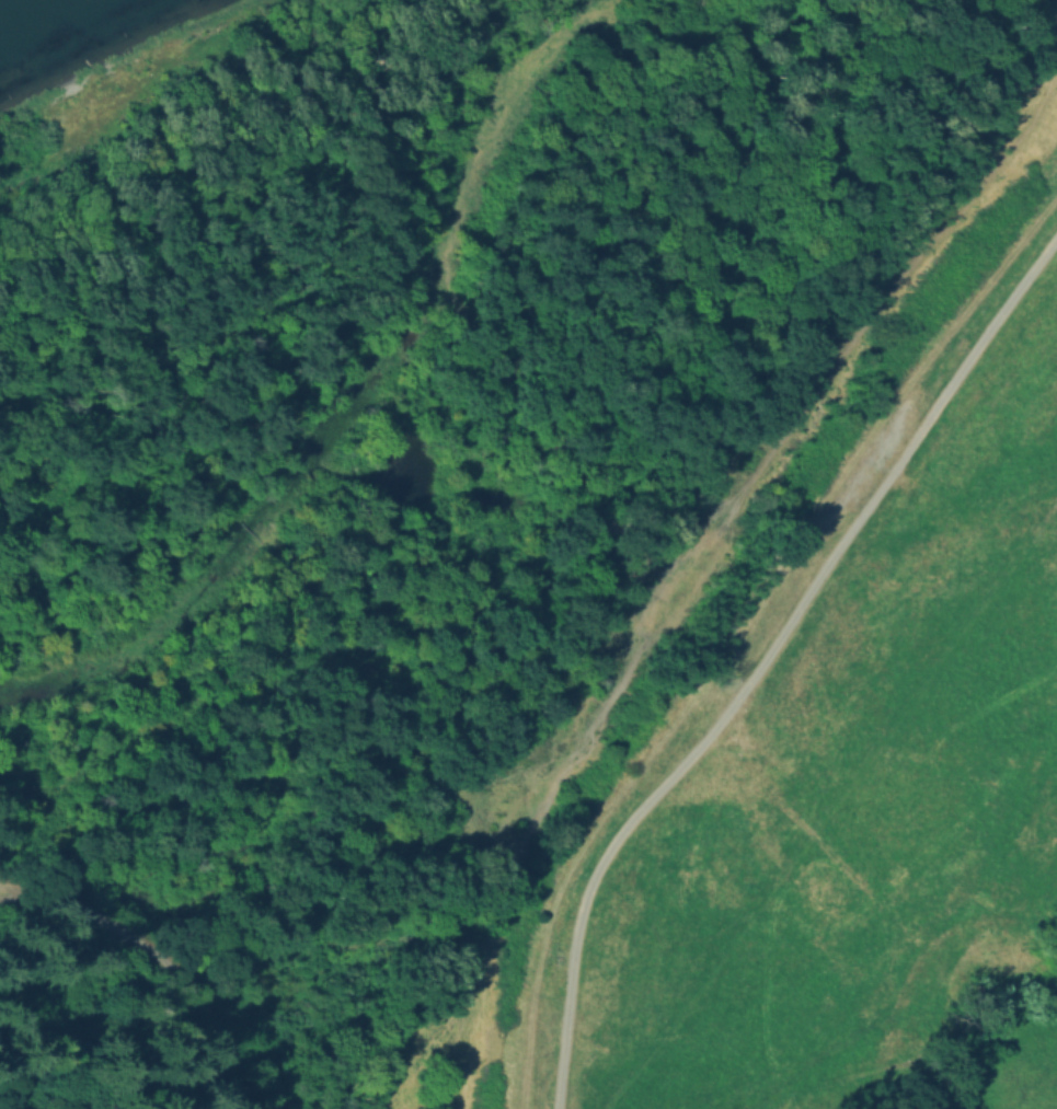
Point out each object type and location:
road: (766, 663)
road: (158, 956)

